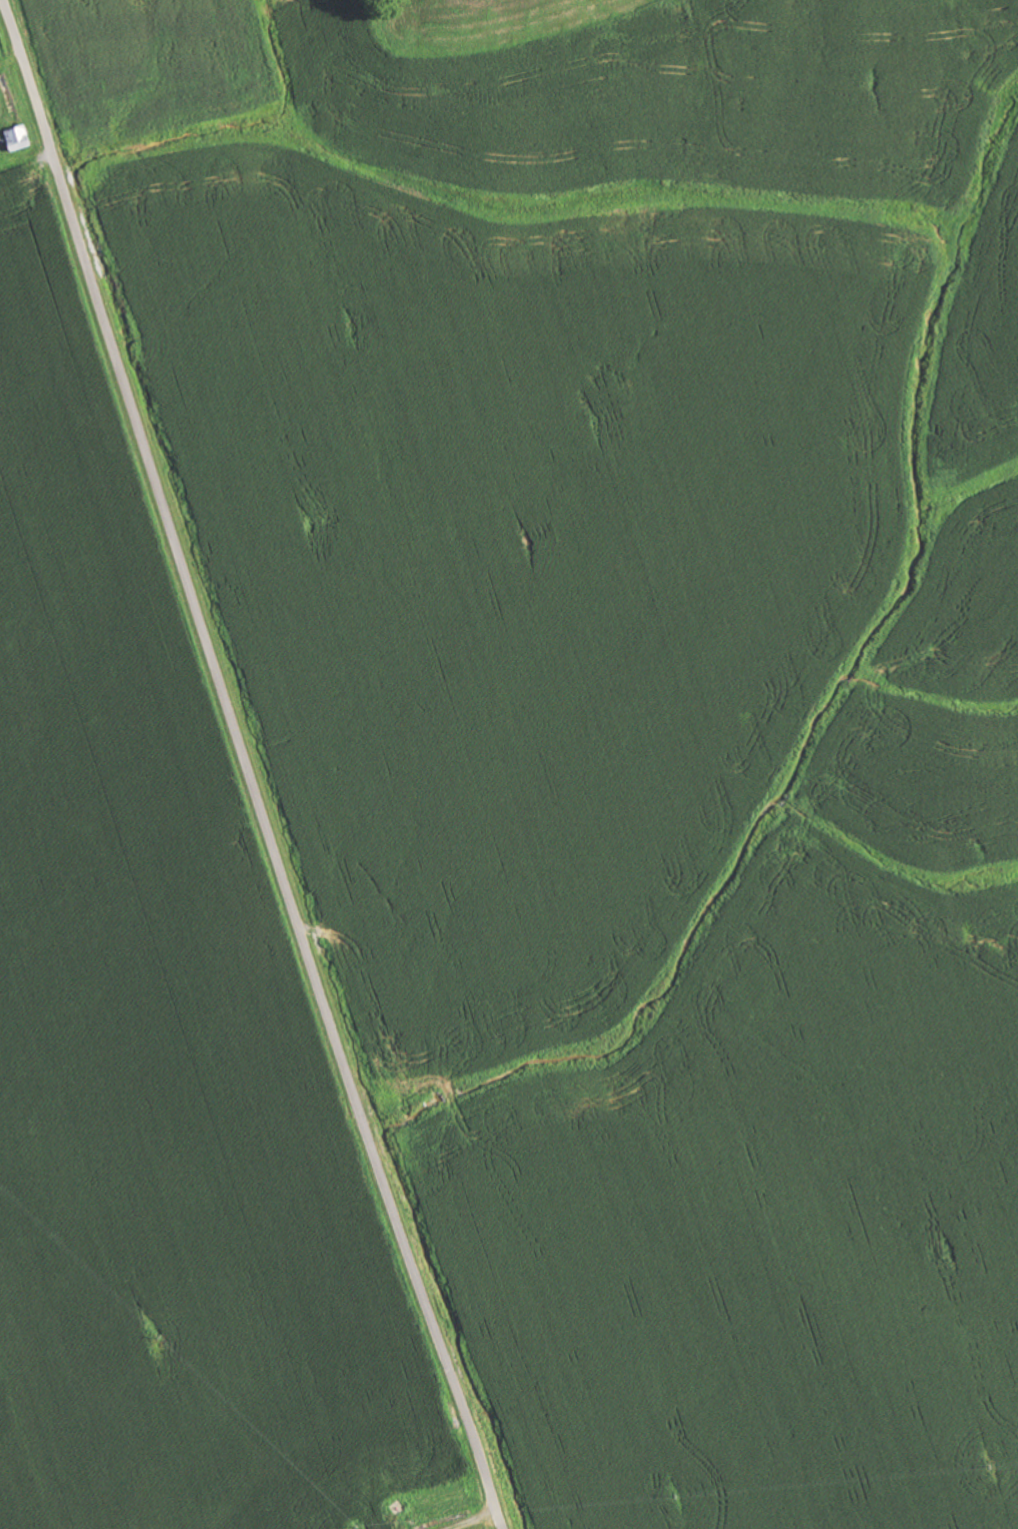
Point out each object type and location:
building: (17, 138)
road: (246, 766)

